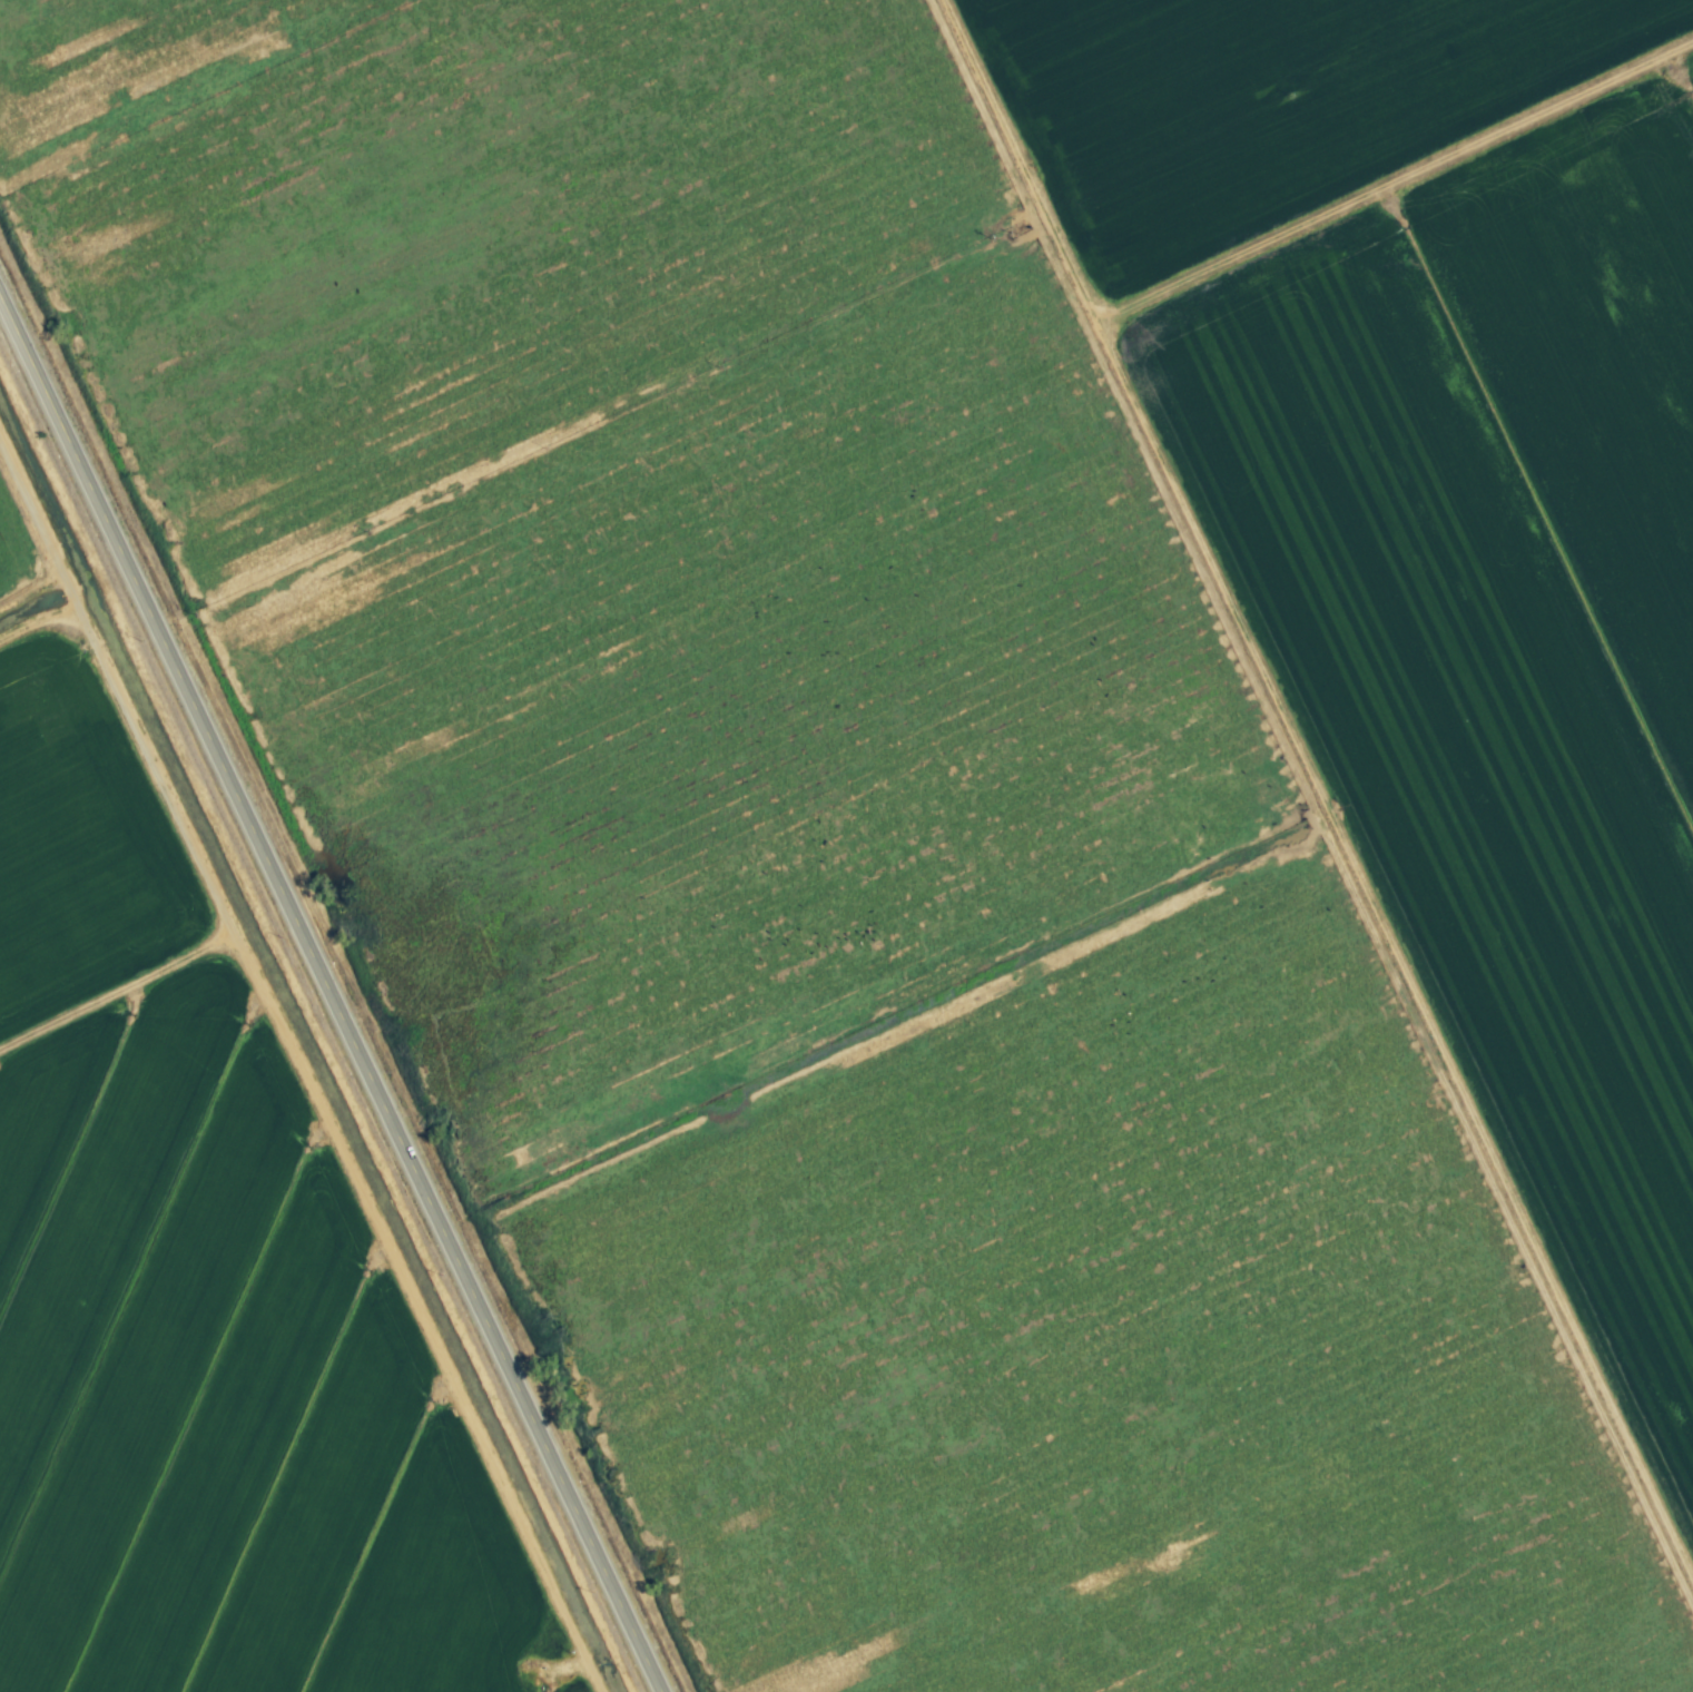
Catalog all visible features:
road: (331, 994)

